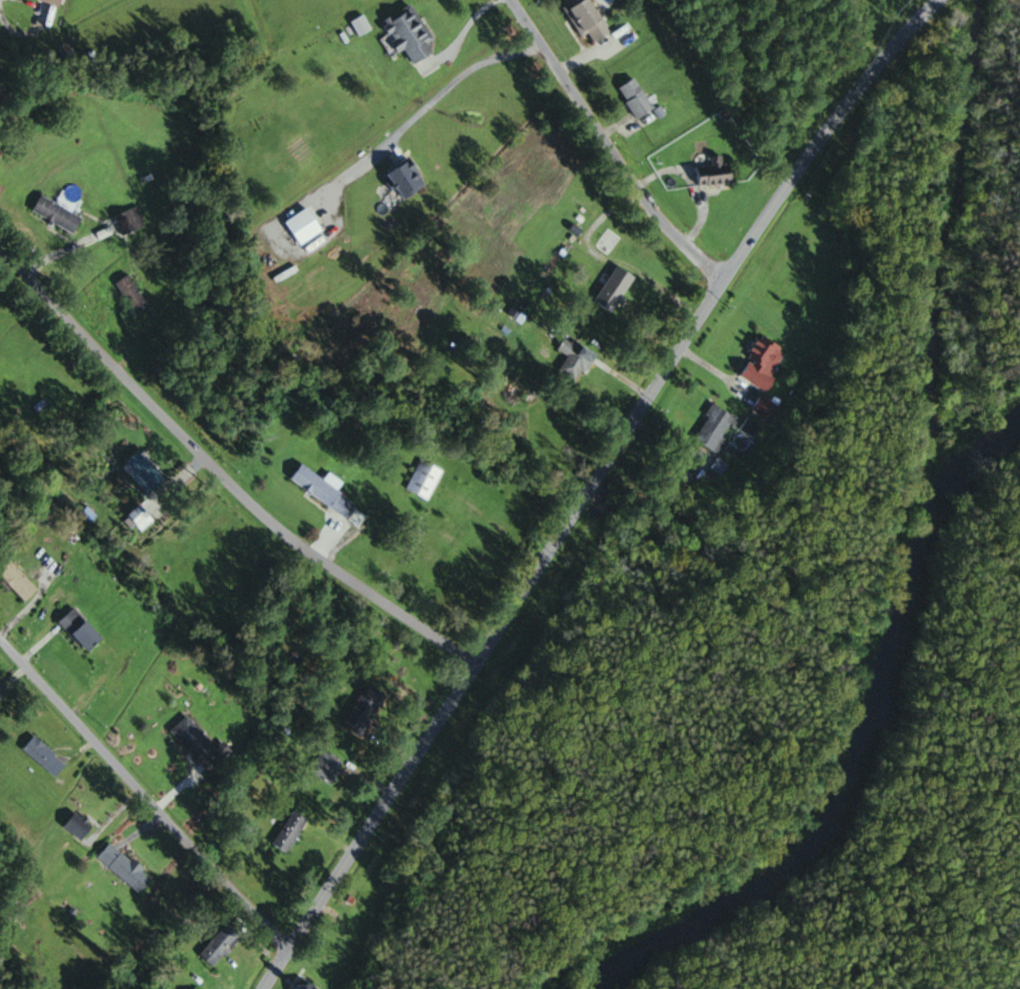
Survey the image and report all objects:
building: (54, 1)
building: (587, 19)
building: (360, 26)
road: (465, 28)
building: (409, 34)
road: (19, 35)
road: (452, 80)
building: (635, 99)
road: (608, 150)
building: (714, 173)
building: (407, 178)
road: (690, 183)
building: (57, 213)
building: (129, 220)
road: (597, 221)
building: (608, 241)
road: (68, 249)
building: (602, 284)
building: (132, 294)
building: (574, 357)
building: (761, 362)
road: (705, 365)
road: (624, 381)
building: (53, 407)
building: (764, 407)
building: (749, 426)
building: (715, 429)
road: (668, 440)
building: (143, 473)
road: (224, 474)
road: (178, 479)
building: (423, 479)
road: (597, 487)
building: (324, 491)
building: (141, 517)
building: (17, 580)
building: (87, 636)
building: (363, 709)
building: (198, 744)
building: (44, 756)
building: (326, 766)
road: (144, 792)
building: (289, 830)
building: (124, 867)
building: (221, 943)
building: (307, 985)

